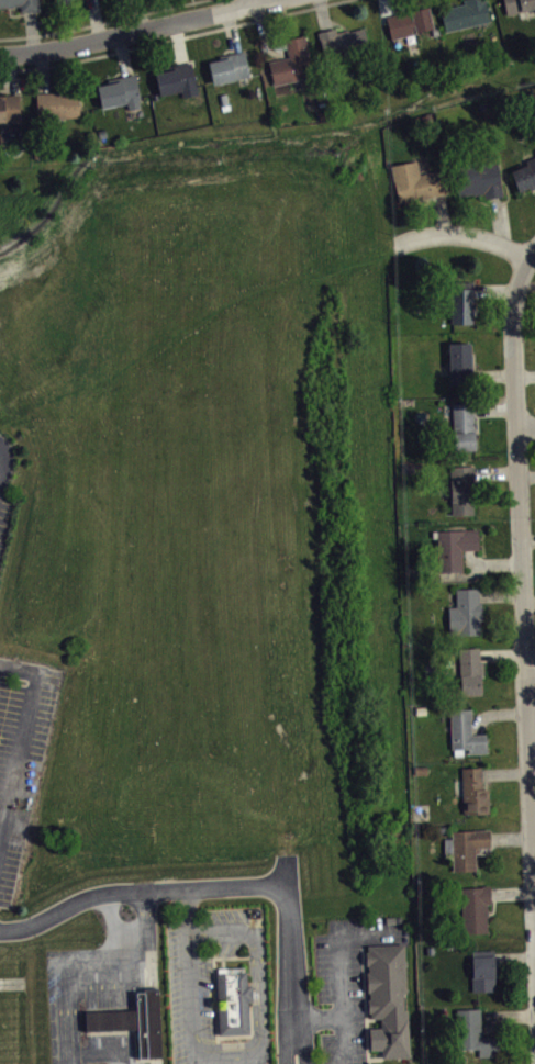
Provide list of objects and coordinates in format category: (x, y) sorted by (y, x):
road: (253, 1)
building: (67, 2)
building: (21, 4)
building: (519, 5)
building: (464, 14)
road: (101, 22)
building: (409, 22)
road: (134, 32)
road: (174, 38)
building: (341, 40)
building: (292, 63)
building: (229, 67)
building: (175, 77)
building: (120, 92)
building: (57, 104)
building: (9, 109)
building: (524, 175)
building: (477, 179)
building: (416, 182)
road: (461, 236)
building: (461, 302)
building: (459, 363)
building: (462, 426)
road: (525, 426)
building: (461, 489)
building: (453, 547)
road: (521, 548)
building: (466, 612)
building: (470, 670)
road: (531, 675)
building: (464, 732)
road: (24, 753)
parking lot: (20, 774)
building: (472, 792)
building: (465, 847)
road: (229, 889)
building: (473, 908)
road: (186, 910)
road: (337, 943)
building: (482, 970)
parking lot: (200, 982)
parking lot: (346, 983)
building: (387, 998)
building: (231, 1004)
building: (134, 1018)
road: (341, 1018)
building: (472, 1033)
road: (252, 1049)

